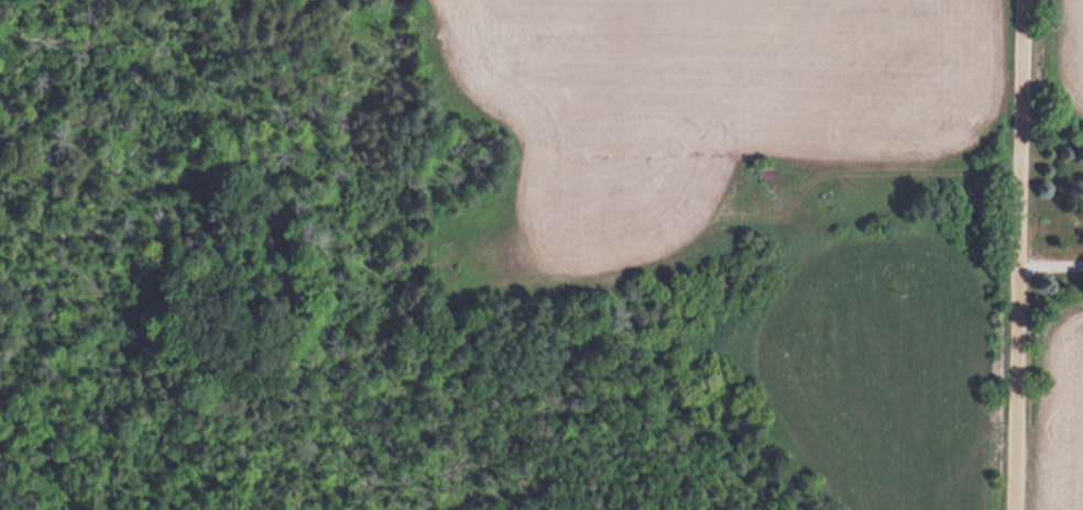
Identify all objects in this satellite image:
road: (1020, 254)

